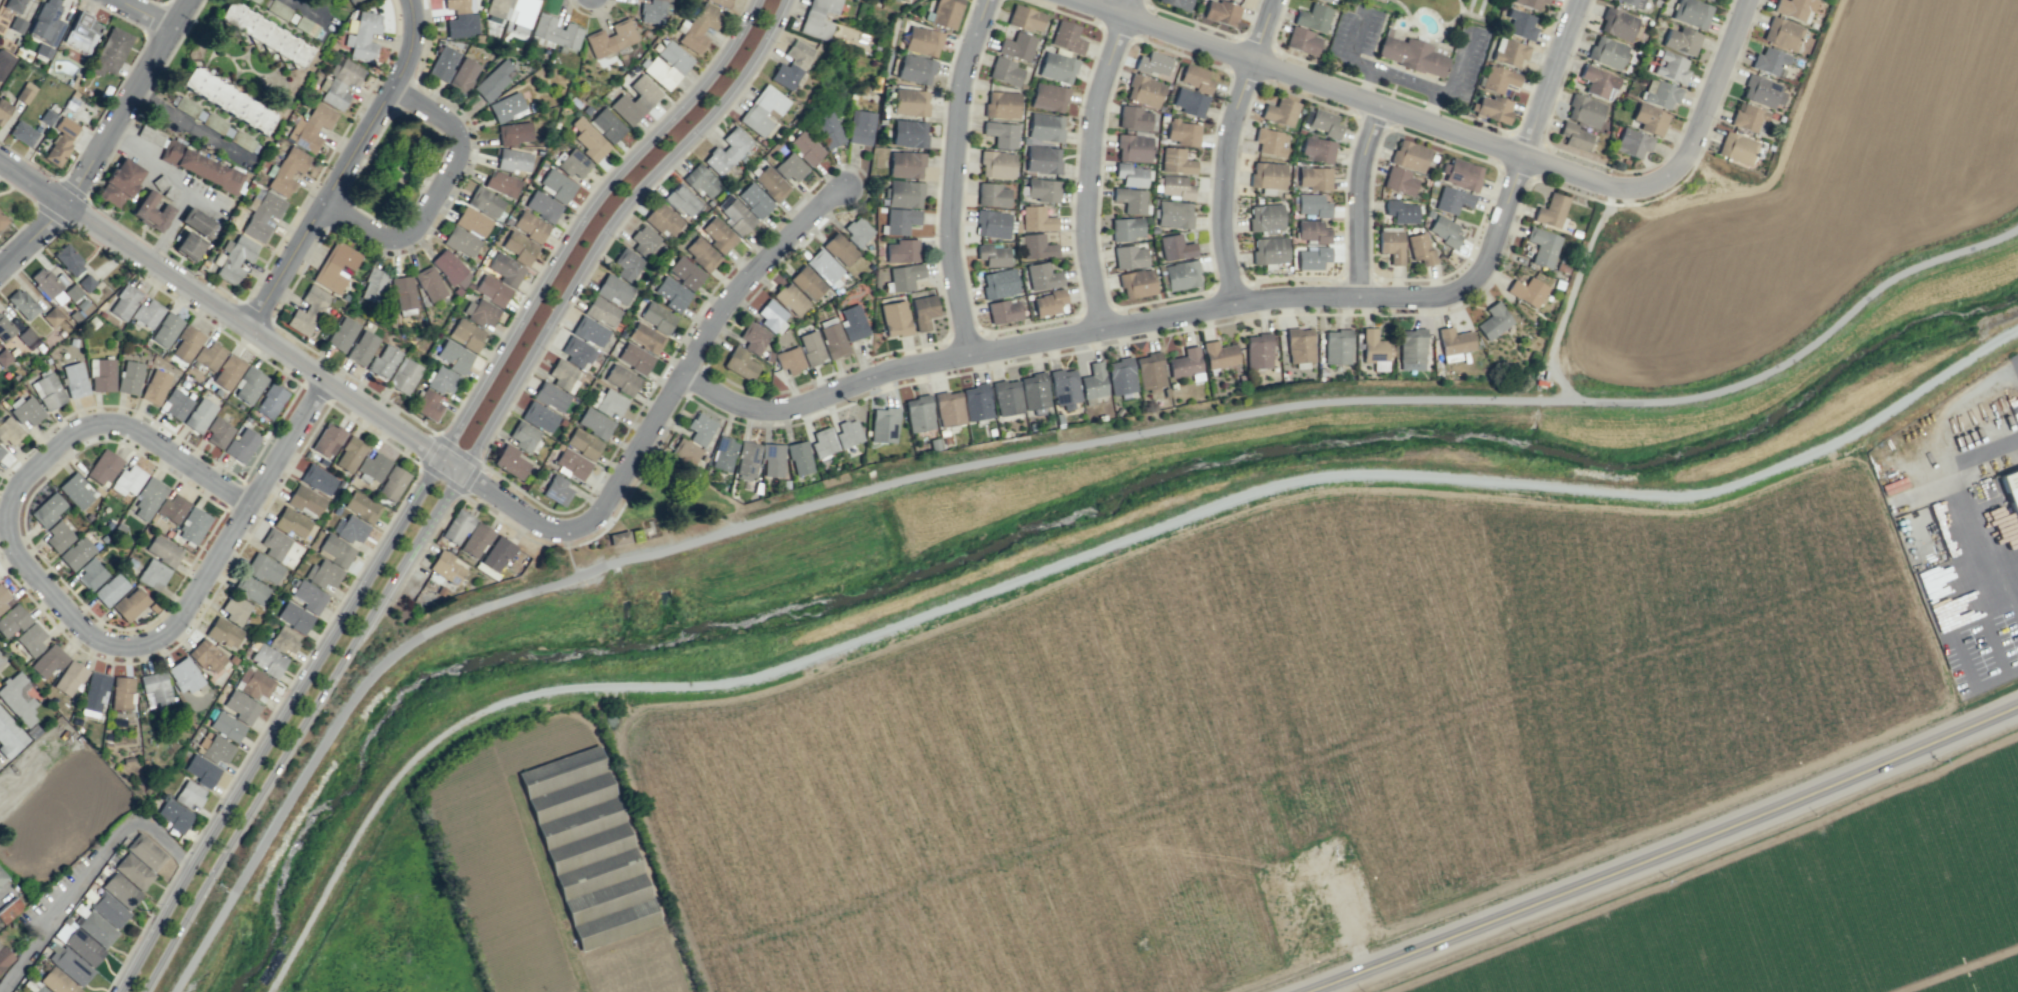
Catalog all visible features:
building: (1230, 0)
building: (1708, 0)
building: (352, 1)
building: (1325, 1)
building: (721, 2)
building: (1632, 2)
building: (1177, 3)
building: (1529, 3)
building: (14, 5)
park: (1469, 5)
road: (1459, 6)
park: (1480, 7)
building: (1794, 9)
building: (652, 11)
building: (1220, 12)
road: (146, 13)
building: (946, 13)
building: (1691, 13)
building: (514, 14)
road: (1454, 16)
building: (1313, 17)
road: (1408, 17)
building: (461, 18)
building: (818, 18)
building: (1025, 18)
road: (1187, 19)
road: (1249, 22)
building: (1520, 24)
building: (1618, 24)
building: (16, 26)
building: (46, 27)
building: (700, 27)
building: (556, 32)
building: (1387, 32)
building: (82, 33)
building: (264, 33)
building: (1782, 33)
building: (362, 35)
building: (1066, 37)
building: (610, 38)
road: (1419, 39)
building: (1301, 40)
building: (1680, 40)
building: (922, 41)
parking lot: (1350, 45)
building: (1017, 46)
building: (110, 51)
building: (1508, 52)
building: (1606, 52)
building: (1411, 55)
building: (605, 59)
building: (1769, 61)
building: (4, 62)
building: (443, 63)
building: (1153, 63)
building: (667, 65)
building: (791, 65)
building: (1057, 67)
building: (1671, 67)
building: (914, 69)
building: (1004, 71)
building: (463, 74)
road: (1299, 76)
building: (1194, 78)
building: (1498, 79)
building: (493, 80)
building: (1597, 81)
road: (1403, 82)
building: (340, 83)
road: (1366, 85)
road: (1393, 85)
building: (1144, 90)
building: (25, 92)
building: (1763, 92)
building: (1660, 93)
building: (1048, 97)
building: (227, 99)
building: (635, 100)
building: (910, 102)
building: (1189, 102)
building: (1002, 104)
building: (506, 106)
road: (1435, 106)
road: (1430, 107)
building: (1492, 108)
building: (762, 109)
building: (3, 110)
building: (1584, 110)
building: (1280, 111)
road: (1700, 117)
building: (1133, 118)
building: (1649, 119)
building: (212, 123)
building: (1325, 123)
building: (607, 124)
building: (310, 127)
building: (860, 127)
building: (1045, 127)
building: (828, 130)
building: (1300, 131)
building: (1182, 132)
building: (22, 133)
building: (514, 133)
building: (909, 133)
building: (1001, 133)
road: (1791, 135)
building: (1574, 136)
road: (103, 138)
building: (589, 140)
building: (60, 141)
building: (1268, 142)
building: (1632, 142)
building: (806, 147)
building: (1133, 147)
road: (1224, 148)
building: (1317, 148)
road: (1449, 148)
building: (1736, 148)
building: (727, 151)
building: (1409, 155)
building: (1432, 157)
building: (1042, 159)
building: (513, 160)
building: (1176, 161)
road: (1089, 162)
building: (574, 163)
building: (905, 164)
building: (997, 164)
building: (200, 166)
building: (790, 167)
road: (342, 168)
building: (287, 170)
park: (400, 170)
road: (1568, 172)
building: (1130, 174)
building: (1461, 174)
building: (1266, 175)
building: (1314, 177)
road: (955, 178)
building: (701, 180)
building: (1399, 180)
building: (1426, 181)
building: (119, 182)
building: (1433, 182)
building: (501, 183)
building: (770, 183)
building: (556, 185)
road: (178, 186)
building: (1176, 187)
building: (1043, 189)
road: (434, 192)
building: (904, 194)
building: (992, 195)
building: (1284, 195)
road: (1357, 198)
building: (1131, 199)
building: (754, 200)
building: (1452, 200)
building: (485, 201)
building: (682, 201)
crop: (1810, 203)
building: (1312, 205)
building: (542, 206)
building: (151, 211)
building: (1401, 211)
building: (1551, 211)
building: (1429, 213)
building: (1174, 214)
building: (263, 215)
building: (737, 217)
building: (1265, 218)
building: (662, 219)
building: (1037, 219)
building: (2, 220)
building: (900, 220)
building: (196, 221)
road: (397, 221)
building: (473, 221)
building: (992, 224)
building: (530, 226)
building: (1126, 228)
building: (857, 230)
building: (1312, 231)
building: (1445, 231)
building: (718, 235)
building: (644, 240)
building: (461, 241)
road: (123, 245)
building: (189, 245)
building: (1391, 245)
building: (1037, 246)
building: (1542, 246)
building: (519, 247)
building: (1175, 247)
building: (839, 249)
building: (1420, 249)
building: (901, 250)
building: (1269, 250)
building: (702, 253)
building: (993, 255)
building: (1129, 257)
building: (1312, 257)
building: (234, 258)
building: (68, 260)
building: (627, 264)
building: (335, 266)
building: (824, 267)
building: (451, 268)
road: (1239, 268)
building: (506, 269)
building: (686, 272)
building: (1181, 275)
building: (904, 276)
building: (1042, 276)
building: (45, 282)
building: (807, 282)
building: (429, 283)
building: (999, 283)
building: (1136, 283)
building: (373, 285)
building: (613, 289)
building: (492, 290)
building: (1527, 291)
building: (672, 293)
road: (1571, 294)
building: (404, 295)
building: (790, 298)
building: (124, 302)
building: (1048, 302)
building: (22, 303)
road: (1217, 306)
building: (307, 310)
building: (602, 311)
building: (923, 311)
building: (1003, 311)
building: (480, 312)
building: (147, 313)
building: (771, 315)
building: (51, 316)
building: (657, 317)
building: (895, 318)
building: (1493, 321)
building: (853, 322)
building: (5, 328)
building: (166, 329)
building: (590, 331)
building: (342, 334)
building: (466, 334)
building: (645, 337)
building: (753, 337)
building: (832, 337)
road: (703, 338)
building: (186, 343)
building: (1453, 343)
building: (1299, 345)
building: (1337, 346)
building: (362, 347)
building: (811, 347)
building: (1374, 349)
building: (1412, 349)
building: (577, 351)
building: (1258, 351)
building: (209, 355)
building: (1219, 355)
building: (454, 356)
building: (634, 358)
building: (789, 359)
building: (383, 362)
building: (1185, 362)
building: (740, 363)
building: (1150, 371)
building: (228, 372)
building: (101, 374)
building: (563, 375)
building: (404, 376)
building: (1121, 376)
building: (129, 377)
building: (74, 379)
building: (442, 379)
building: (621, 379)
building: (1093, 381)
building: (249, 385)
building: (155, 387)
building: (1064, 387)
building: (48, 391)
road: (316, 391)
building: (1034, 391)
building: (550, 396)
building: (1007, 397)
building: (270, 401)
building: (976, 402)
building: (175, 403)
building: (610, 403)
building: (428, 405)
building: (948, 408)
building: (25, 410)
building: (918, 413)
building: (199, 414)
building: (539, 417)
building: (594, 423)
building: (884, 425)
building: (700, 428)
building: (9, 430)
building: (218, 432)
building: (848, 433)
building: (523, 435)
building: (328, 440)
road: (284, 442)
building: (823, 442)
building: (583, 443)
building: (241, 445)
road: (415, 445)
building: (1, 451)
building: (684, 451)
building: (723, 453)
building: (350, 454)
building: (799, 457)
road: (1012, 459)
building: (772, 460)
building: (510, 461)
building: (746, 461)
road: (417, 463)
building: (571, 464)
building: (103, 467)
building: (372, 467)
road: (245, 474)
building: (318, 479)
building: (128, 480)
road: (242, 481)
building: (392, 483)
road: (416, 485)
road: (455, 487)
building: (76, 490)
building: (557, 490)
building: (2012, 490)
road: (233, 495)
building: (148, 498)
building: (306, 500)
park: (669, 503)
building: (362, 506)
building: (172, 508)
building: (47, 509)
building: (291, 522)
building: (193, 525)
building: (457, 526)
building: (350, 529)
building: (58, 537)
building: (619, 537)
building: (476, 539)
road: (30, 544)
building: (275, 544)
building: (163, 550)
building: (335, 550)
road: (15, 551)
building: (76, 553)
building: (497, 553)
building: (446, 567)
building: (264, 568)
building: (90, 574)
building: (153, 574)
building: (323, 574)
building: (250, 589)
building: (110, 590)
building: (308, 596)
building: (130, 604)
building: (234, 608)
building: (294, 616)
building: (12, 621)
building: (224, 632)
park: (560, 638)
building: (31, 639)
building: (284, 639)
building: (207, 656)
building: (268, 659)
building: (48, 661)
road: (3, 665)
building: (184, 675)
building: (69, 678)
building: (254, 683)
building: (155, 689)
building: (121, 693)
building: (94, 694)
building: (17, 698)
building: (241, 706)
crop: (1282, 717)
building: (227, 726)
building: (9, 736)
crop: (1287, 738)
building: (217, 749)
building: (202, 770)
building: (189, 794)
building: (174, 815)
building: (588, 847)
building: (145, 852)
crop: (559, 856)
road: (1675, 861)
building: (133, 871)
building: (2, 876)
road: (87, 878)
building: (121, 890)
building: (109, 909)
building: (9, 910)
building: (97, 928)
park: (228, 931)
building: (84, 946)
building: (4, 957)
building: (70, 964)
building: (58, 982)
road: (1362, 986)
building: (39, 989)

